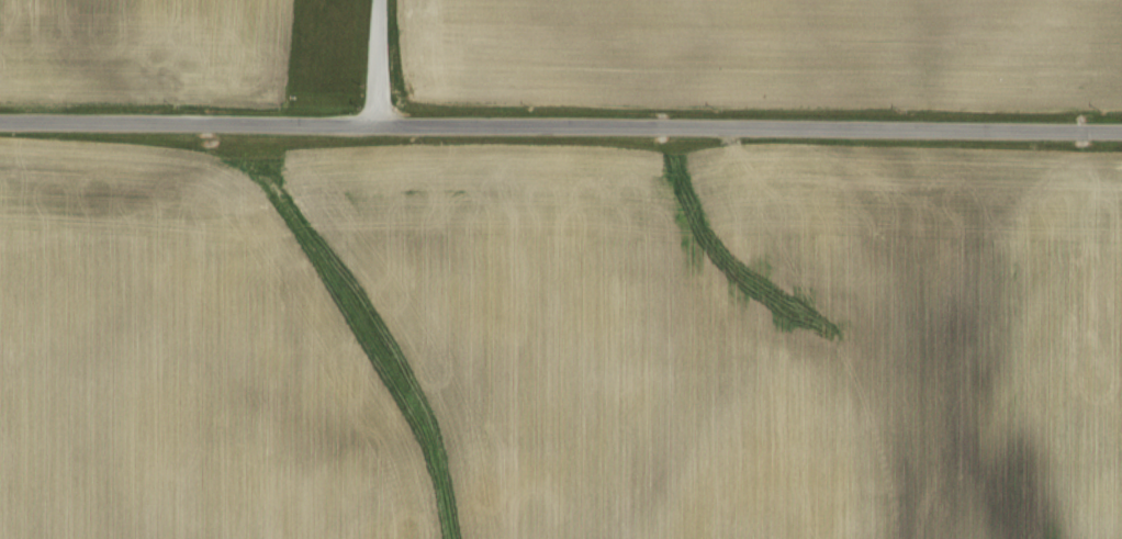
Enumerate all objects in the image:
road: (378, 61)
crop: (573, 75)
road: (561, 125)
crop: (556, 344)

